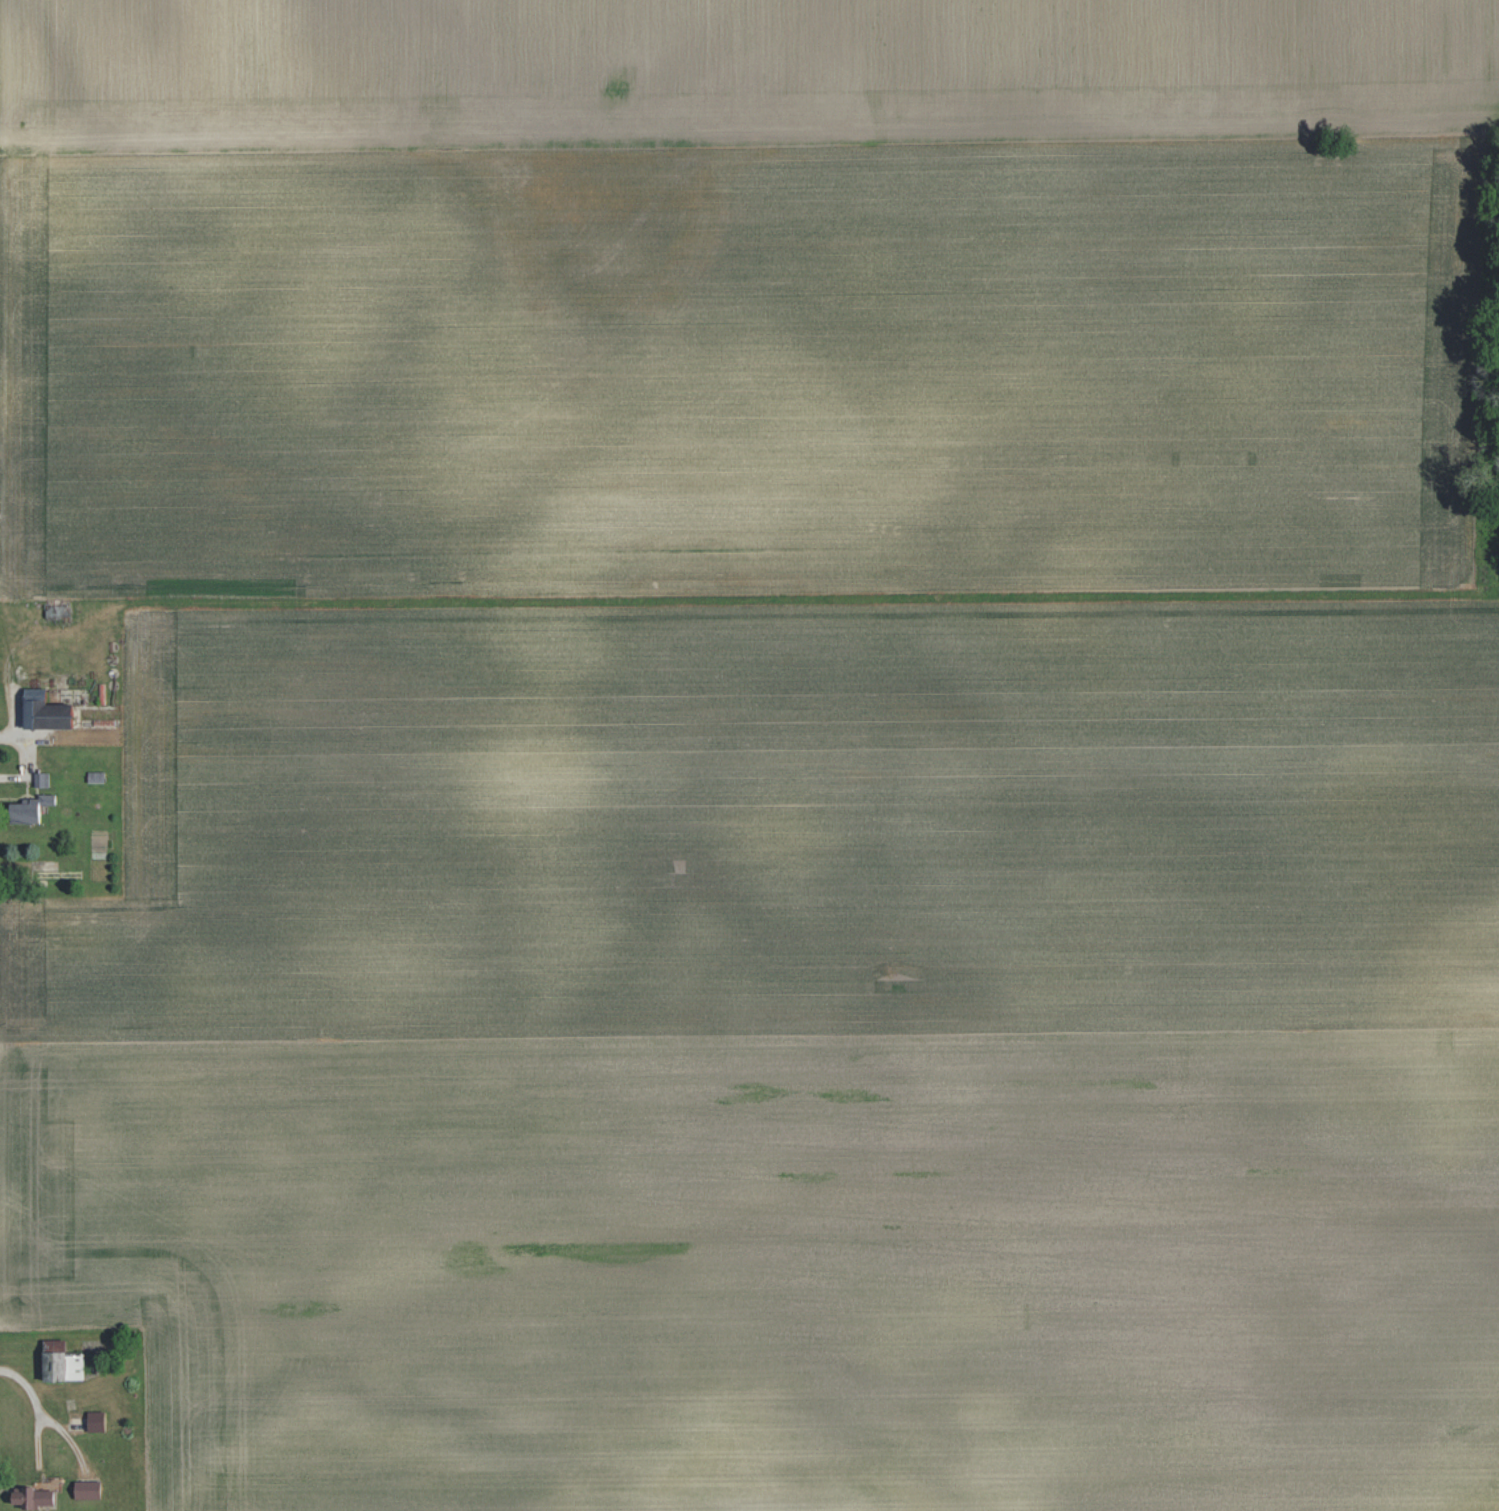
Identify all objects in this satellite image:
building: (45, 712)
building: (41, 780)
building: (27, 811)
building: (63, 1365)
building: (95, 1420)
building: (87, 1489)
building: (33, 1497)

